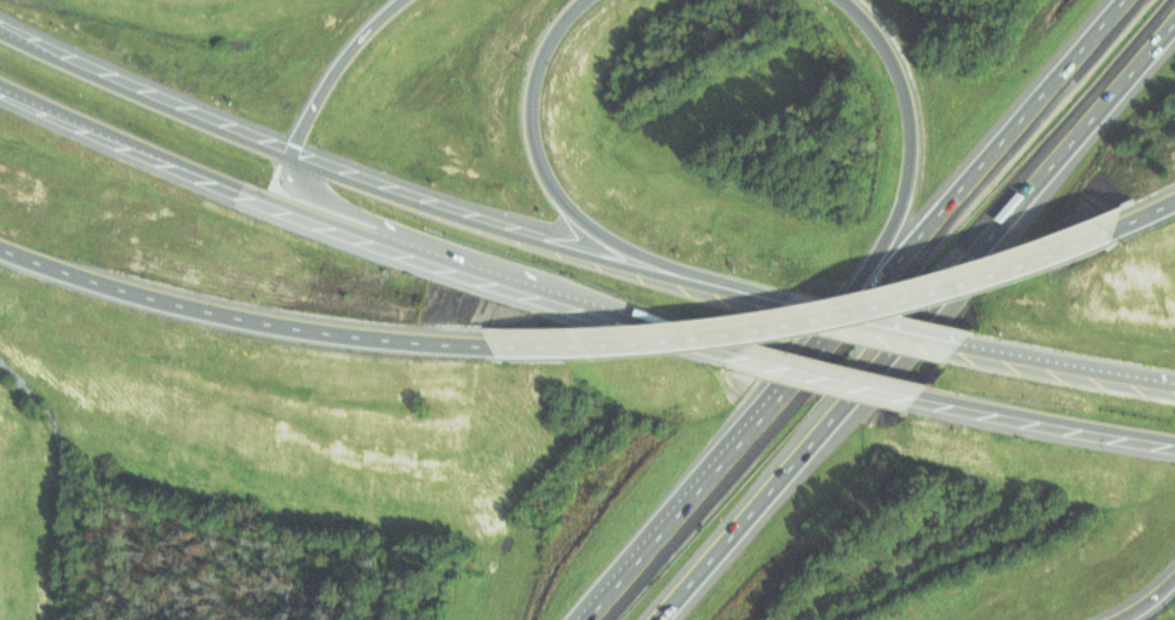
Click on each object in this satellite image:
road: (340, 70)
road: (147, 94)
road: (969, 173)
road: (907, 176)
road: (558, 186)
road: (1021, 199)
road: (1148, 217)
road: (510, 231)
road: (365, 232)
road: (443, 241)
road: (757, 299)
road: (248, 314)
road: (821, 317)
road: (872, 327)
road: (1067, 369)
road: (831, 374)
road: (1047, 420)
road: (701, 483)
road: (763, 498)
road: (1148, 603)

